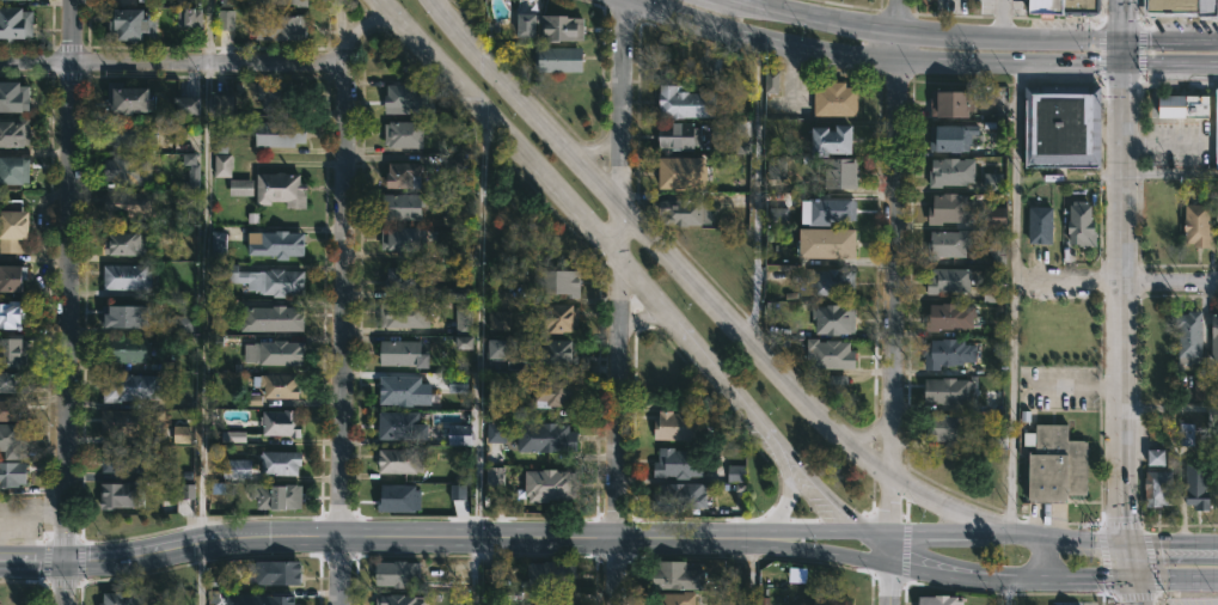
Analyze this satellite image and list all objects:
building: (30, 0)
building: (145, 0)
building: (253, 1)
building: (288, 1)
building: (228, 2)
road: (757, 2)
building: (1067, 6)
building: (1185, 6)
building: (188, 16)
road: (898, 17)
road: (815, 19)
road: (999, 19)
building: (225, 20)
road: (339, 20)
road: (362, 20)
road: (1121, 22)
building: (14, 23)
building: (131, 24)
building: (552, 26)
building: (279, 27)
road: (206, 30)
road: (761, 38)
road: (1009, 39)
traffic signals: (1121, 43)
road: (1169, 43)
road: (898, 48)
road: (1121, 54)
building: (559, 59)
road: (172, 61)
road: (1009, 66)
traffic signals: (1121, 66)
road: (1169, 66)
building: (771, 82)
building: (280, 96)
building: (14, 97)
building: (127, 98)
building: (400, 98)
building: (836, 99)
building: (986, 102)
building: (688, 103)
building: (950, 103)
building: (1185, 104)
building: (186, 105)
building: (222, 105)
building: (1063, 126)
building: (1216, 129)
building: (13, 132)
building: (130, 134)
building: (279, 134)
building: (404, 134)
building: (679, 135)
building: (951, 137)
building: (833, 140)
building: (219, 142)
road: (1164, 142)
building: (741, 145)
road: (596, 151)
road: (527, 160)
building: (190, 161)
building: (222, 165)
building: (454, 165)
building: (775, 169)
building: (13, 170)
building: (128, 170)
building: (840, 171)
building: (684, 172)
building: (951, 172)
road: (1169, 173)
building: (404, 175)
building: (992, 182)
building: (240, 188)
building: (281, 189)
road: (755, 191)
building: (129, 204)
building: (402, 207)
building: (951, 208)
building: (834, 209)
building: (685, 212)
building: (777, 216)
building: (994, 216)
building: (1040, 225)
building: (1082, 225)
building: (1198, 225)
building: (12, 226)
building: (404, 240)
building: (1217, 242)
building: (216, 243)
building: (830, 243)
building: (949, 243)
building: (128, 244)
building: (277, 244)
building: (997, 252)
building: (11, 277)
building: (126, 277)
building: (405, 279)
road: (1067, 279)
road: (1169, 279)
road: (68, 280)
building: (267, 280)
building: (949, 280)
building: (832, 281)
building: (558, 282)
road: (698, 292)
building: (989, 293)
road: (1014, 300)
road: (202, 301)
road: (617, 301)
road: (1121, 305)
building: (12, 314)
road: (644, 314)
road: (896, 314)
building: (404, 316)
building: (123, 317)
building: (279, 318)
building: (561, 318)
building: (463, 319)
building: (500, 319)
building: (834, 319)
building: (962, 322)
building: (184, 323)
road: (345, 323)
building: (1191, 336)
building: (1214, 340)
building: (464, 342)
building: (124, 349)
building: (497, 349)
building: (274, 353)
building: (559, 353)
building: (12, 354)
building: (404, 354)
building: (830, 354)
building: (950, 354)
road: (477, 359)
building: (836, 380)
building: (11, 383)
building: (277, 386)
building: (129, 387)
building: (458, 389)
building: (1199, 390)
building: (402, 391)
building: (948, 391)
building: (558, 392)
road: (733, 397)
road: (1170, 409)
building: (10, 411)
building: (123, 422)
building: (281, 423)
building: (402, 426)
building: (678, 426)
building: (947, 428)
building: (500, 432)
building: (459, 433)
building: (180, 434)
building: (1186, 434)
building: (232, 436)
building: (545, 438)
building: (12, 441)
building: (1155, 457)
building: (123, 460)
building: (280, 463)
building: (403, 464)
building: (679, 464)
building: (1058, 465)
building: (235, 469)
building: (12, 473)
building: (735, 473)
building: (494, 476)
building: (550, 485)
building: (1198, 485)
building: (1159, 488)
building: (186, 491)
building: (457, 493)
building: (118, 495)
building: (275, 495)
road: (816, 495)
building: (680, 496)
building: (397, 499)
road: (787, 509)
road: (31, 515)
road: (849, 526)
road: (807, 530)
road: (490, 534)
road: (989, 534)
road: (1169, 543)
traffic signals: (1121, 544)
road: (875, 549)
road: (1122, 552)
road: (143, 554)
road: (825, 556)
road: (1048, 557)
road: (32, 562)
traffic signals: (66, 562)
road: (748, 572)
building: (279, 573)
road: (195, 574)
building: (397, 574)
building: (797, 574)
road: (1010, 574)
road: (1173, 574)
building: (551, 575)
traffic signals: (1128, 575)
building: (677, 576)
road: (63, 582)
road: (1130, 582)
road: (892, 586)
road: (1006, 589)
building: (674, 598)
building: (120, 599)
building: (275, 600)
building: (399, 600)
building: (939, 600)
building: (553, 601)
building: (826, 601)

